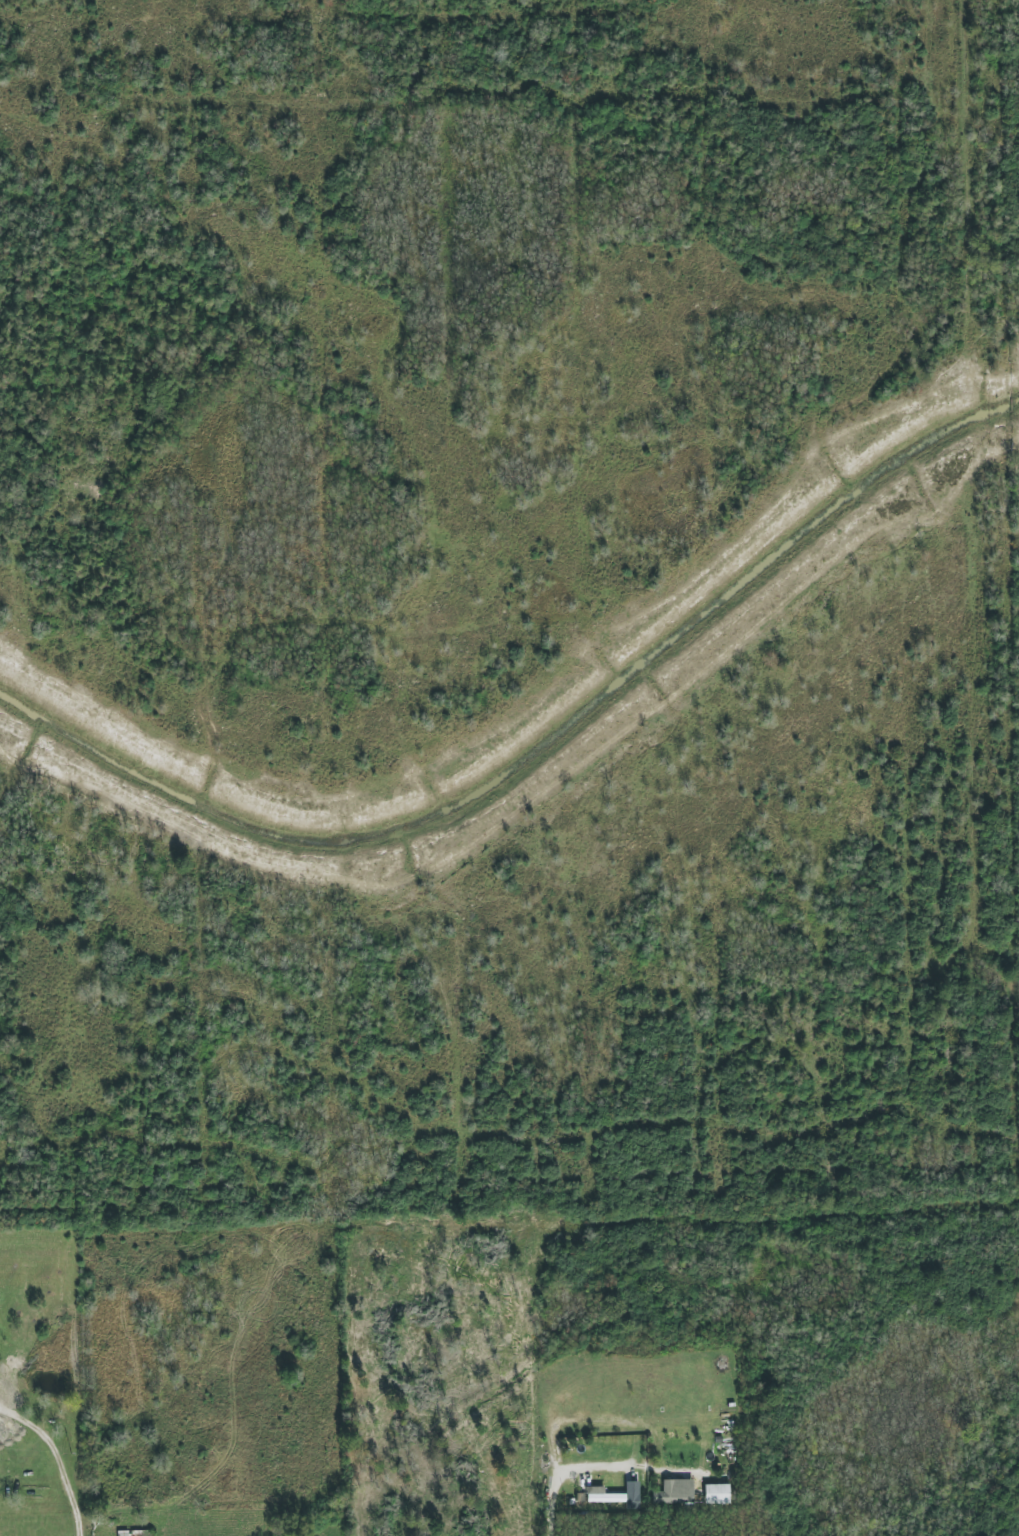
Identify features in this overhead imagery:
road: (65, 1453)
road: (589, 1469)
road: (668, 1469)
building: (674, 1492)
building: (717, 1494)
building: (616, 1495)
road: (549, 1509)
building: (136, 1533)

